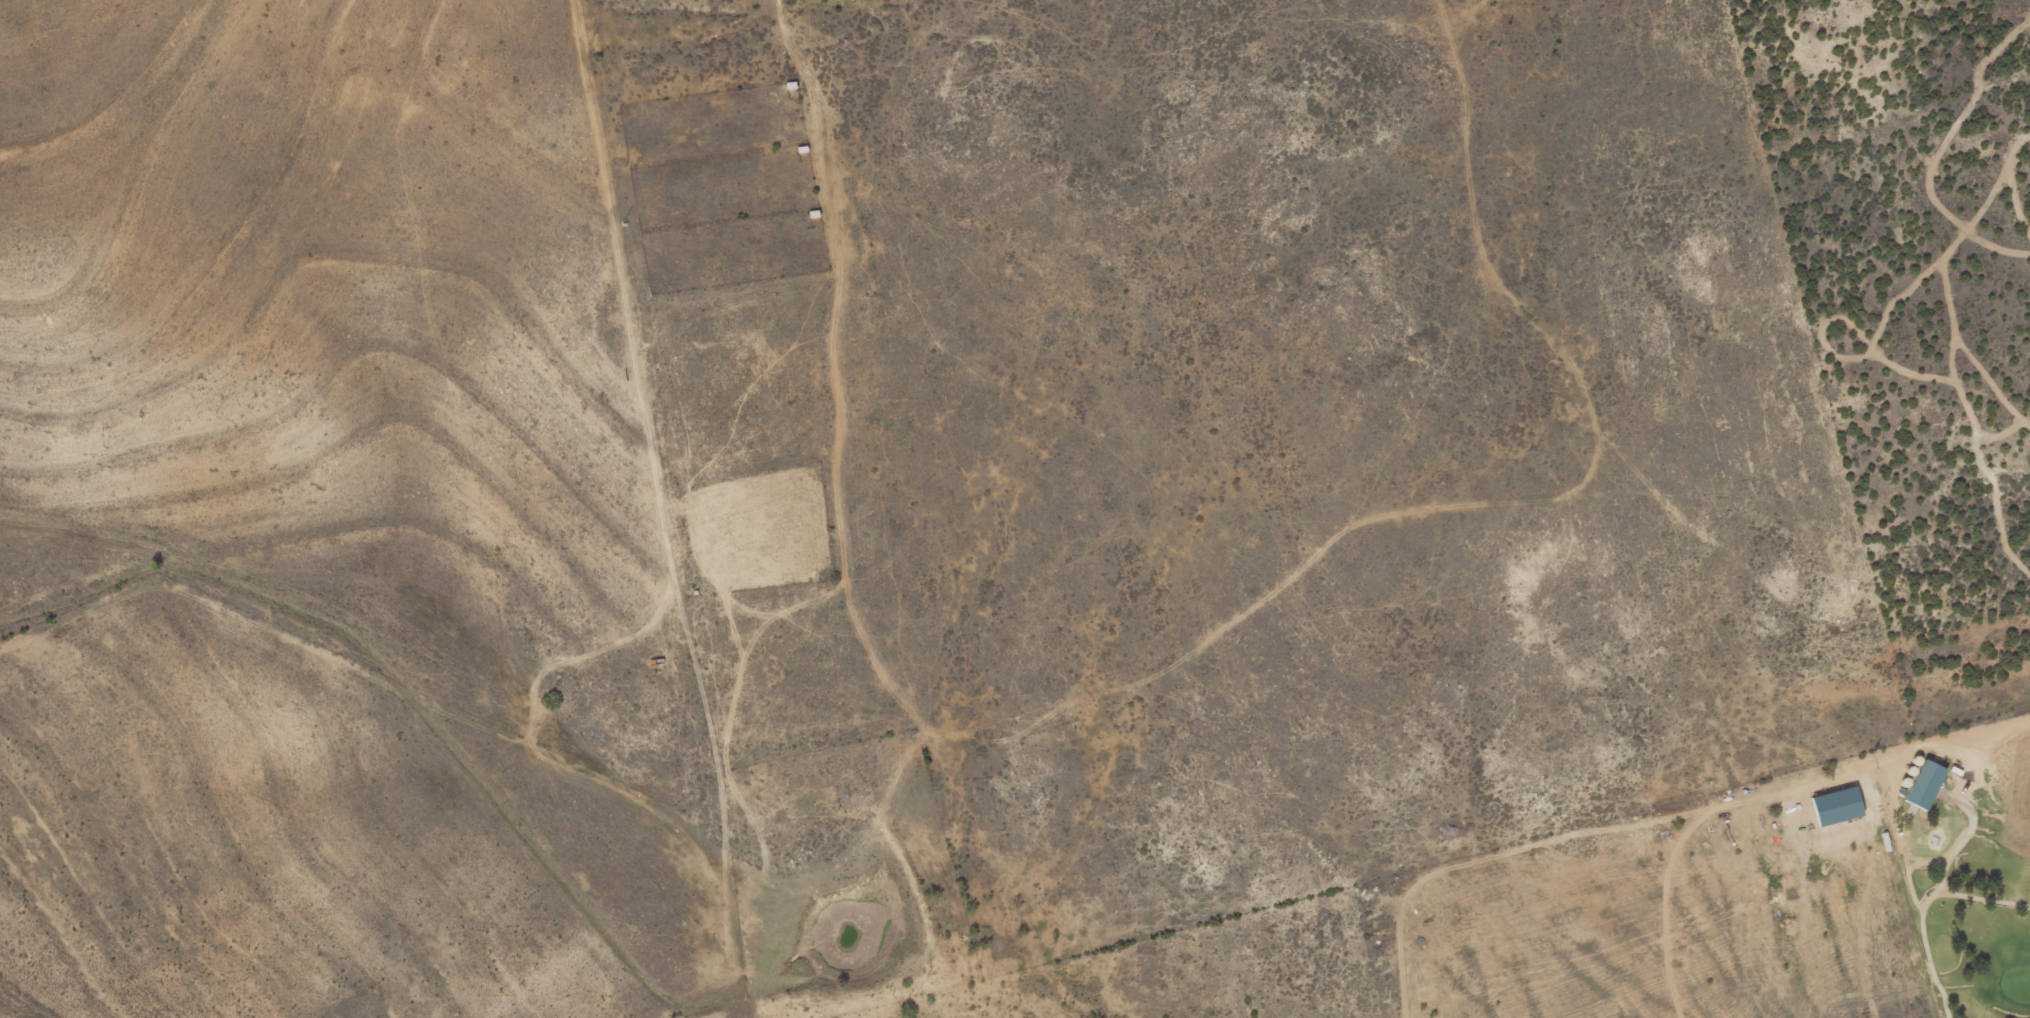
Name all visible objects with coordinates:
building: (1840, 805)

